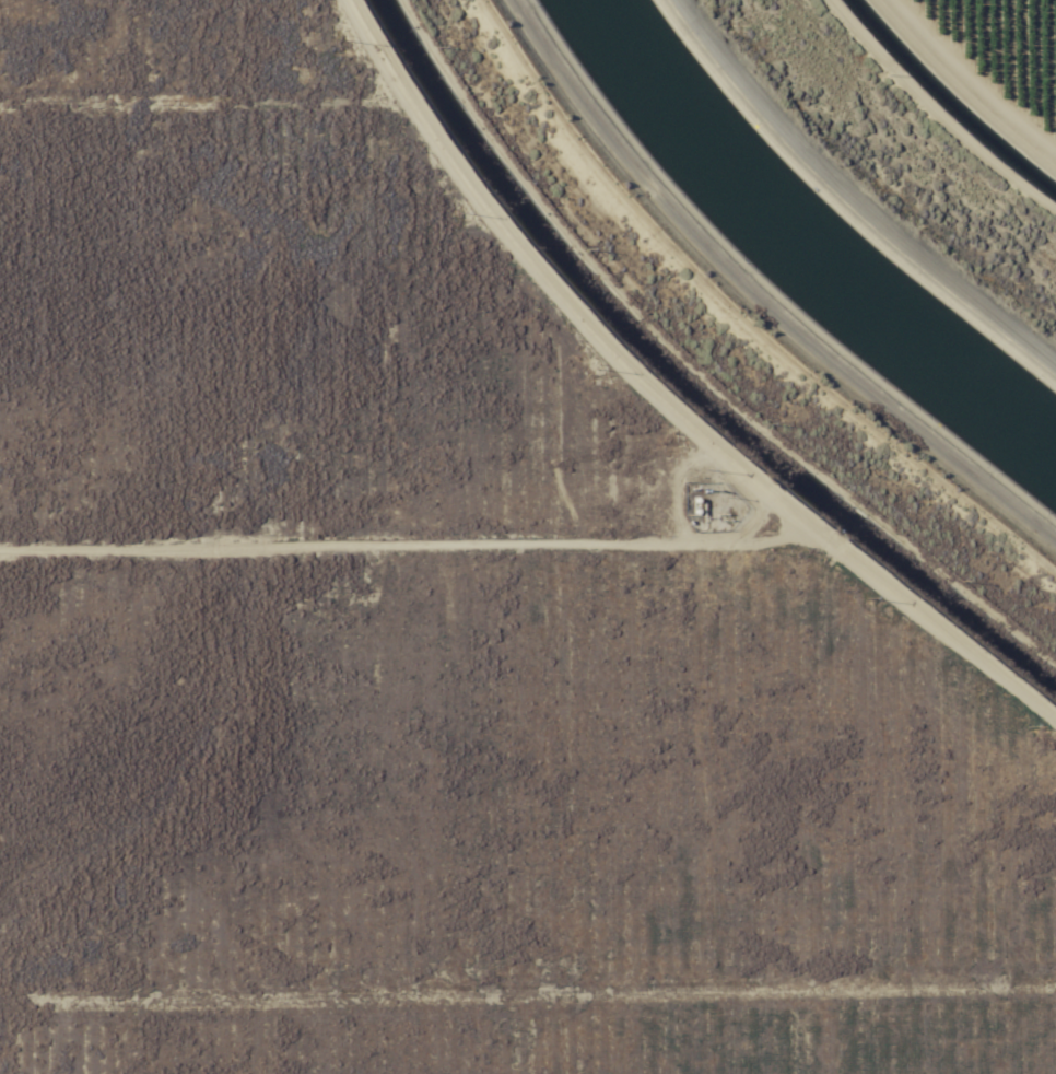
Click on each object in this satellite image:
road: (761, 293)

